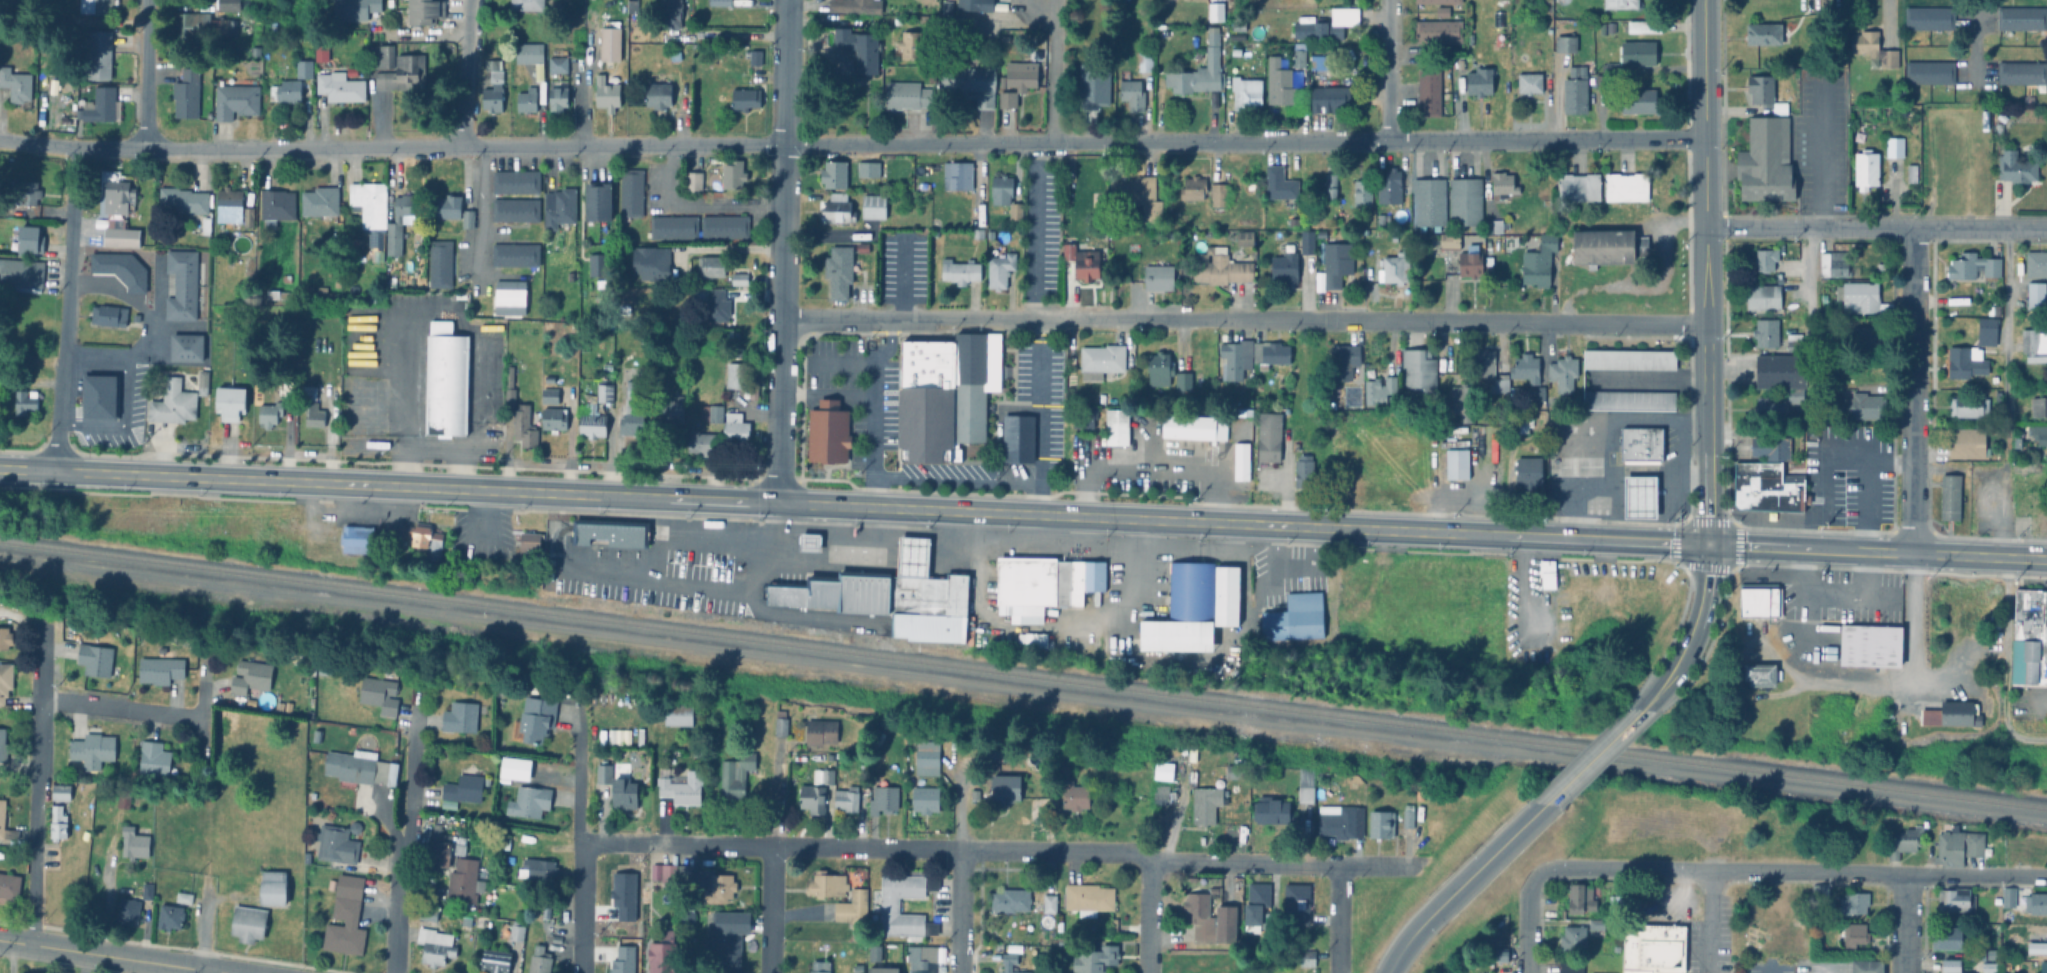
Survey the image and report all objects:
building: (18, 1)
building: (1435, 1)
building: (723, 3)
building: (1621, 3)
building: (254, 5)
building: (850, 5)
building: (980, 5)
building: (530, 6)
building: (102, 7)
building: (945, 8)
building: (635, 9)
building: (357, 10)
building: (1442, 10)
building: (1215, 11)
building: (427, 12)
building: (675, 15)
building: (1001, 15)
building: (1927, 17)
building: (2019, 17)
building: (212, 22)
building: (78, 24)
building: (969, 24)
building: (1326, 24)
building: (1238, 25)
building: (1644, 26)
building: (259, 30)
building: (273, 31)
building: (1438, 31)
road: (1704, 32)
building: (1767, 33)
building: (1236, 36)
building: (614, 44)
building: (905, 44)
building: (1566, 44)
building: (857, 48)
building: (1259, 48)
building: (1874, 49)
building: (1638, 52)
building: (324, 53)
building: (103, 54)
building: (258, 54)
building: (1298, 55)
building: (532, 56)
building: (384, 59)
building: (756, 61)
building: (1144, 61)
building: (2046, 61)
building: (1318, 62)
building: (560, 64)
building: (1610, 66)
building: (1199, 70)
road: (1391, 70)
building: (1927, 71)
building: (306, 72)
road: (465, 74)
building: (2020, 74)
building: (542, 75)
building: (1020, 75)
road: (143, 76)
building: (405, 76)
building: (1600, 80)
building: (1479, 81)
building: (1279, 82)
building: (1529, 83)
building: (973, 84)
building: (18, 88)
building: (341, 90)
building: (496, 90)
building: (1575, 91)
building: (1245, 93)
building: (1429, 93)
building: (1765, 93)
building: (288, 94)
building: (608, 94)
building: (905, 94)
building: (1131, 94)
building: (188, 96)
building: (560, 98)
building: (662, 99)
building: (1213, 99)
building: (1330, 99)
building: (238, 101)
building: (747, 101)
building: (1638, 101)
building: (528, 103)
road: (581, 105)
building: (105, 108)
building: (68, 130)
building: (1769, 131)
road: (852, 142)
building: (1892, 145)
road: (1037, 154)
road: (781, 156)
road: (1819, 156)
building: (2014, 167)
building: (867, 169)
building: (1866, 169)
building: (1908, 171)
building: (1765, 173)
building: (833, 174)
building: (956, 175)
building: (737, 177)
building: (634, 182)
building: (979, 183)
building: (1504, 184)
building: (519, 185)
building: (696, 185)
building: (1280, 185)
building: (1330, 186)
building: (1626, 186)
building: (1390, 187)
building: (1579, 187)
building: (1193, 188)
building: (1001, 189)
building: (1362, 192)
building: (29, 195)
building: (1136, 196)
building: (118, 197)
building: (1218, 197)
building: (1428, 201)
building: (1465, 202)
building: (186, 203)
building: (322, 204)
building: (871, 204)
building: (600, 205)
building: (372, 206)
building: (633, 206)
road: (694, 206)
building: (231, 208)
building: (839, 208)
building: (278, 209)
building: (452, 210)
building: (562, 211)
building: (1015, 211)
road: (479, 213)
building: (518, 213)
building: (250, 220)
building: (470, 222)
building: (402, 224)
building: (1493, 226)
building: (207, 227)
building: (727, 227)
building: (677, 228)
road: (1875, 229)
building: (977, 231)
building: (1168, 234)
building: (118, 236)
building: (1244, 236)
building: (1393, 236)
building: (670, 238)
building: (728, 238)
building: (1449, 241)
building: (32, 242)
building: (1605, 244)
building: (861, 245)
building: (1306, 245)
building: (380, 250)
building: (1765, 257)
building: (518, 258)
building: (1082, 259)
building: (1309, 260)
building: (1470, 260)
building: (1554, 260)
building: (1539, 261)
building: (2035, 261)
building: (1282, 262)
building: (1336, 262)
building: (1833, 262)
building: (1971, 264)
building: (999, 265)
building: (1218, 265)
building: (413, 266)
building: (652, 266)
building: (1395, 266)
building: (443, 267)
building: (601, 267)
building: (839, 268)
building: (715, 269)
building: (960, 269)
building: (23, 275)
building: (1157, 276)
building: (742, 283)
building: (184, 287)
building: (2033, 293)
building: (324, 295)
building: (1861, 296)
building: (280, 297)
building: (1763, 297)
building: (512, 300)
building: (372, 301)
building: (715, 303)
road: (1706, 305)
road: (65, 311)
road: (925, 314)
road: (440, 315)
building: (111, 316)
road: (154, 316)
road: (1389, 318)
building: (1766, 330)
building: (1986, 330)
road: (2005, 335)
building: (1869, 336)
road: (888, 340)
building: (1794, 340)
building: (2033, 342)
building: (635, 344)
building: (190, 349)
building: (736, 350)
building: (1268, 352)
building: (1235, 356)
building: (1629, 357)
road: (89, 358)
road: (843, 358)
building: (1100, 358)
building: (1963, 359)
building: (1341, 360)
building: (1485, 360)
building: (950, 364)
building: (1159, 366)
building: (1524, 366)
building: (1780, 369)
building: (1417, 370)
building: (1562, 372)
building: (732, 373)
building: (1182, 379)
building: (448, 382)
building: (1499, 382)
building: (204, 384)
building: (1378, 386)
building: (286, 389)
building: (512, 389)
building: (752, 389)
road: (1913, 390)
building: (607, 393)
building: (1460, 393)
road: (825, 394)
building: (1795, 394)
building: (312, 395)
building: (1538, 395)
building: (101, 398)
building: (552, 398)
building: (1628, 398)
building: (26, 403)
building: (1966, 403)
building: (233, 404)
building: (2038, 404)
building: (175, 405)
building: (1771, 405)
building: (1865, 405)
road: (777, 408)
building: (1243, 410)
building: (709, 411)
building: (635, 413)
building: (675, 413)
building: (1082, 414)
building: (271, 415)
road: (1038, 415)
building: (316, 417)
building: (1521, 418)
road: (1585, 418)
building: (963, 420)
building: (556, 421)
road: (123, 423)
building: (1186, 424)
building: (1115, 425)
building: (921, 426)
building: (1219, 426)
building: (594, 427)
building: (733, 427)
building: (528, 428)
building: (826, 430)
building: (2038, 431)
road: (871, 433)
building: (1268, 435)
building: (1016, 436)
building: (1966, 441)
building: (1453, 442)
building: (1639, 443)
building: (1169, 444)
building: (1771, 446)
building: (709, 447)
building: (2045, 455)
building: (1240, 459)
building: (1456, 462)
building: (1473, 463)
building: (1526, 468)
building: (1302, 469)
road: (1644, 470)
road: (1084, 471)
road: (1822, 477)
road: (953, 481)
road: (1863, 481)
building: (1765, 486)
building: (1947, 494)
building: (1638, 496)
gas station: (1638, 496)
road: (854, 507)
road: (486, 514)
road: (775, 532)
building: (591, 533)
building: (630, 535)
road: (719, 536)
road: (840, 536)
building: (427, 539)
building: (360, 540)
building: (808, 541)
gas station: (808, 541)
road: (808, 541)
road: (871, 542)
road: (956, 544)
road: (883, 545)
road: (911, 546)
traffic signals: (1709, 546)
building: (534, 547)
building: (524, 548)
road: (1878, 549)
building: (911, 556)
gas station: (911, 556)
building: (1546, 572)
building: (1081, 577)
building: (551, 579)
road: (1522, 583)
road: (663, 584)
building: (1026, 585)
building: (835, 592)
road: (1833, 595)
building: (1757, 601)
building: (1191, 606)
building: (928, 607)
road: (779, 611)
building: (1315, 615)
building: (1292, 617)
road: (1912, 619)
building: (1266, 623)
building: (76, 627)
road: (1063, 628)
road: (1694, 636)
building: (1032, 638)
building: (2028, 638)
building: (6, 640)
building: (1869, 644)
building: (97, 661)
road: (2004, 664)
building: (162, 672)
railway: (1023, 672)
building: (325, 673)
building: (1759, 673)
building: (253, 678)
building: (305, 678)
road: (1819, 683)
building: (6, 684)
building: (538, 692)
building: (381, 697)
building: (281, 706)
road: (121, 709)
building: (280, 711)
building: (1949, 712)
building: (681, 717)
building: (463, 720)
building: (540, 721)
building: (659, 721)
building: (663, 721)
building: (780, 722)
building: (820, 731)
building: (621, 738)
building: (621, 745)
building: (3, 747)
building: (997, 751)
building: (94, 752)
building: (700, 754)
building: (926, 756)
building: (819, 757)
building: (156, 761)
road: (1595, 761)
building: (362, 770)
building: (1231, 770)
building: (517, 771)
building: (606, 775)
building: (734, 775)
building: (822, 775)
building: (1277, 778)
building: (1305, 783)
building: (1005, 786)
road: (36, 787)
building: (684, 790)
building: (1069, 790)
building: (467, 791)
building: (62, 793)
building: (626, 797)
building: (811, 797)
building: (1160, 797)
building: (845, 798)
building: (883, 798)
building: (924, 798)
building: (530, 803)
building: (1205, 803)
building: (125, 804)
building: (451, 807)
building: (1270, 809)
road: (961, 813)
building: (1408, 815)
building: (2, 816)
building: (1341, 820)
building: (1380, 823)
building: (59, 824)
building: (358, 829)
road: (407, 837)
building: (1903, 838)
building: (135, 845)
building: (1956, 845)
building: (338, 847)
road: (770, 847)
building: (447, 850)
road: (1007, 851)
road: (580, 855)
building: (275, 861)
road: (771, 864)
road: (1235, 864)
building: (688, 871)
building: (540, 872)
road: (1790, 873)
building: (665, 875)
building: (77, 882)
building: (466, 884)
road: (1460, 884)
road: (107, 885)
building: (715, 885)
building: (10, 888)
building: (276, 890)
building: (843, 890)
building: (1821, 890)
building: (148, 892)
building: (1258, 893)
building: (2006, 895)
building: (1088, 897)
building: (1581, 897)
building: (1953, 897)
building: (185, 899)
building: (1010, 899)
building: (2035, 901)
building: (1049, 902)
building: (1854, 902)
building: (1296, 903)
building: (885, 904)
building: (1550, 911)
building: (546, 912)
building: (686, 912)
road: (958, 912)
building: (130, 913)
building: (428, 916)
road: (1146, 916)
building: (171, 918)
building: (1210, 918)
building: (347, 919)
road: (1337, 920)
road: (1708, 922)
road: (1525, 923)
building: (1597, 923)
road: (1903, 924)
building: (250, 926)
road: (202, 927)
building: (518, 932)
building: (1856, 934)
building: (1573, 936)
building: (1947, 936)
building: (727, 939)
building: (619, 944)
building: (2036, 946)
building: (437, 948)
building: (1651, 948)
building: (874, 951)
building: (1499, 953)
building: (1975, 953)
building: (664, 954)
road: (104, 956)
building: (920, 957)
building: (1308, 957)
building: (1089, 960)
building: (541, 961)
building: (498, 962)
building: (1011, 963)
building: (1949, 963)
building: (1868, 965)
building: (1988, 965)
building: (621, 966)
building: (820, 966)
building: (1570, 966)
building: (2026, 966)
building: (2042, 966)
building: (859, 967)
road: (1768, 968)
building: (883, 969)
road: (201, 972)
building: (1956, 972)

